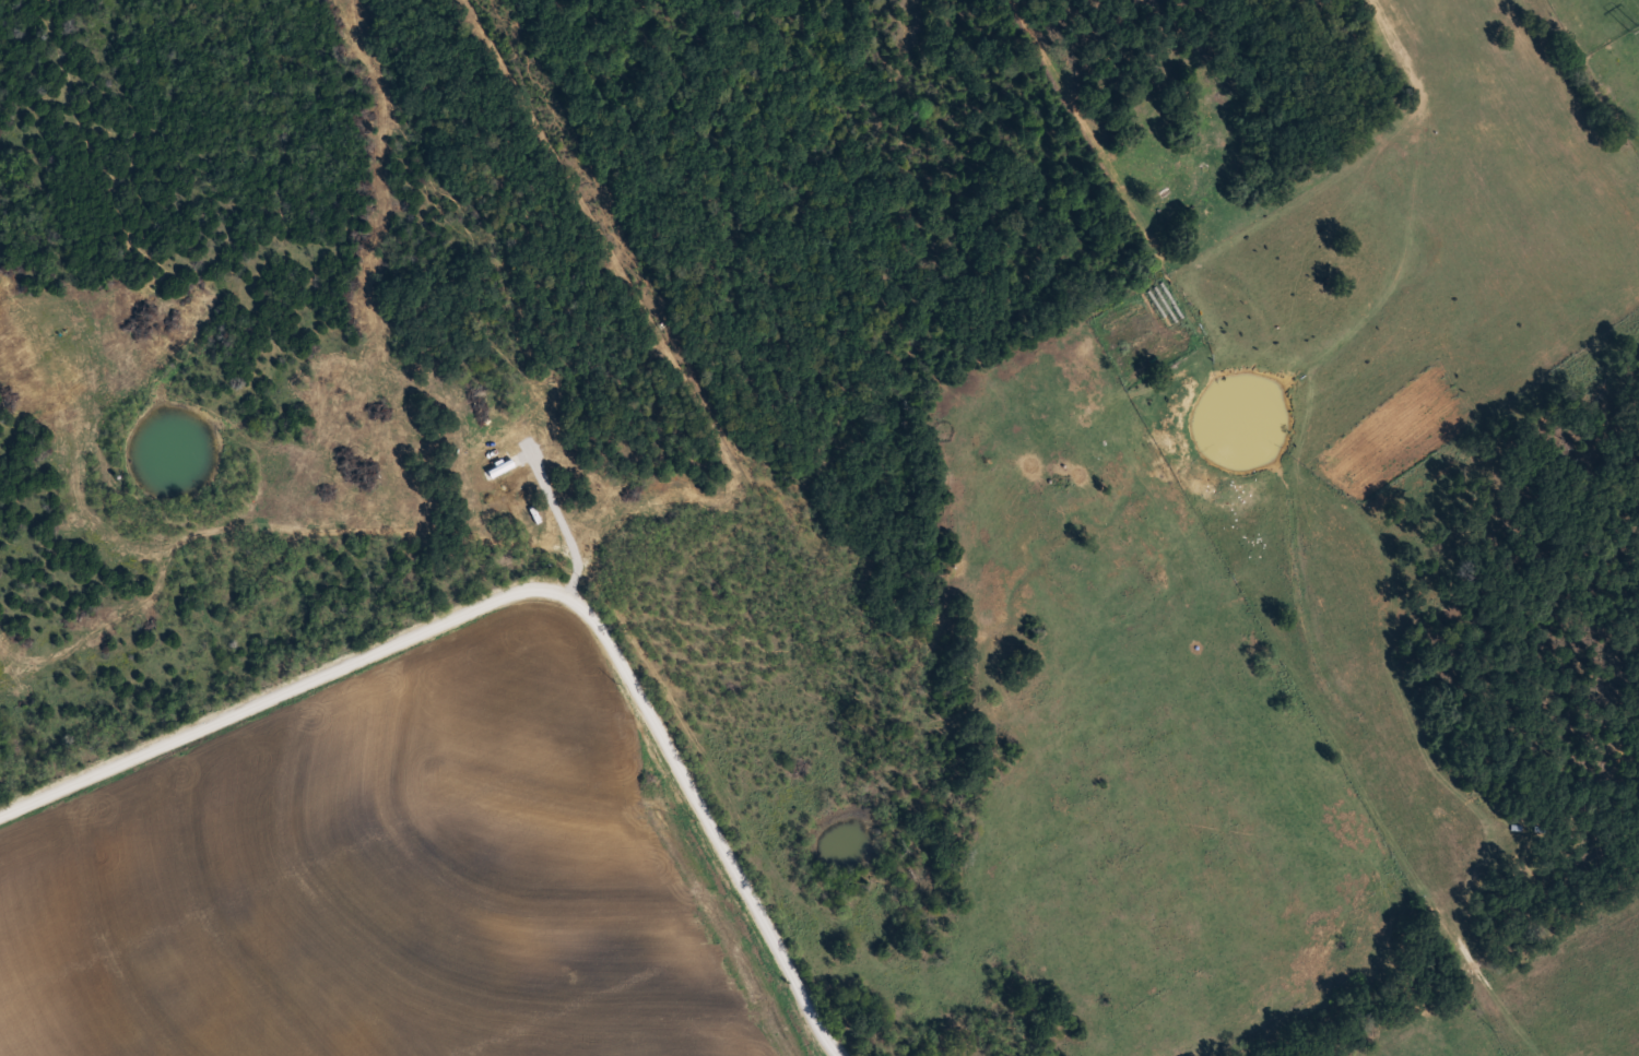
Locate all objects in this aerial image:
power tower: (1632, 26)
road: (530, 585)

